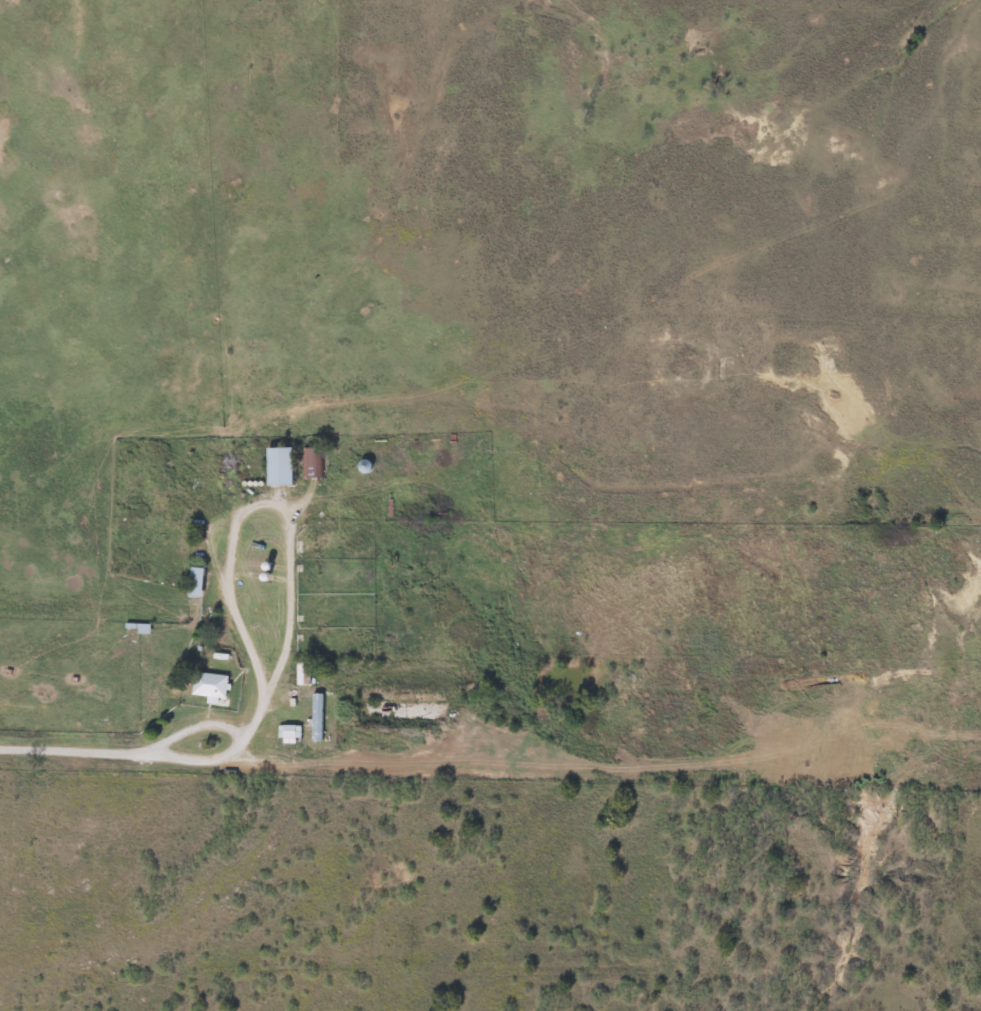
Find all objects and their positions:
building: (312, 462)
building: (362, 465)
building: (277, 466)
building: (194, 582)
building: (136, 628)
building: (302, 672)
building: (208, 684)

